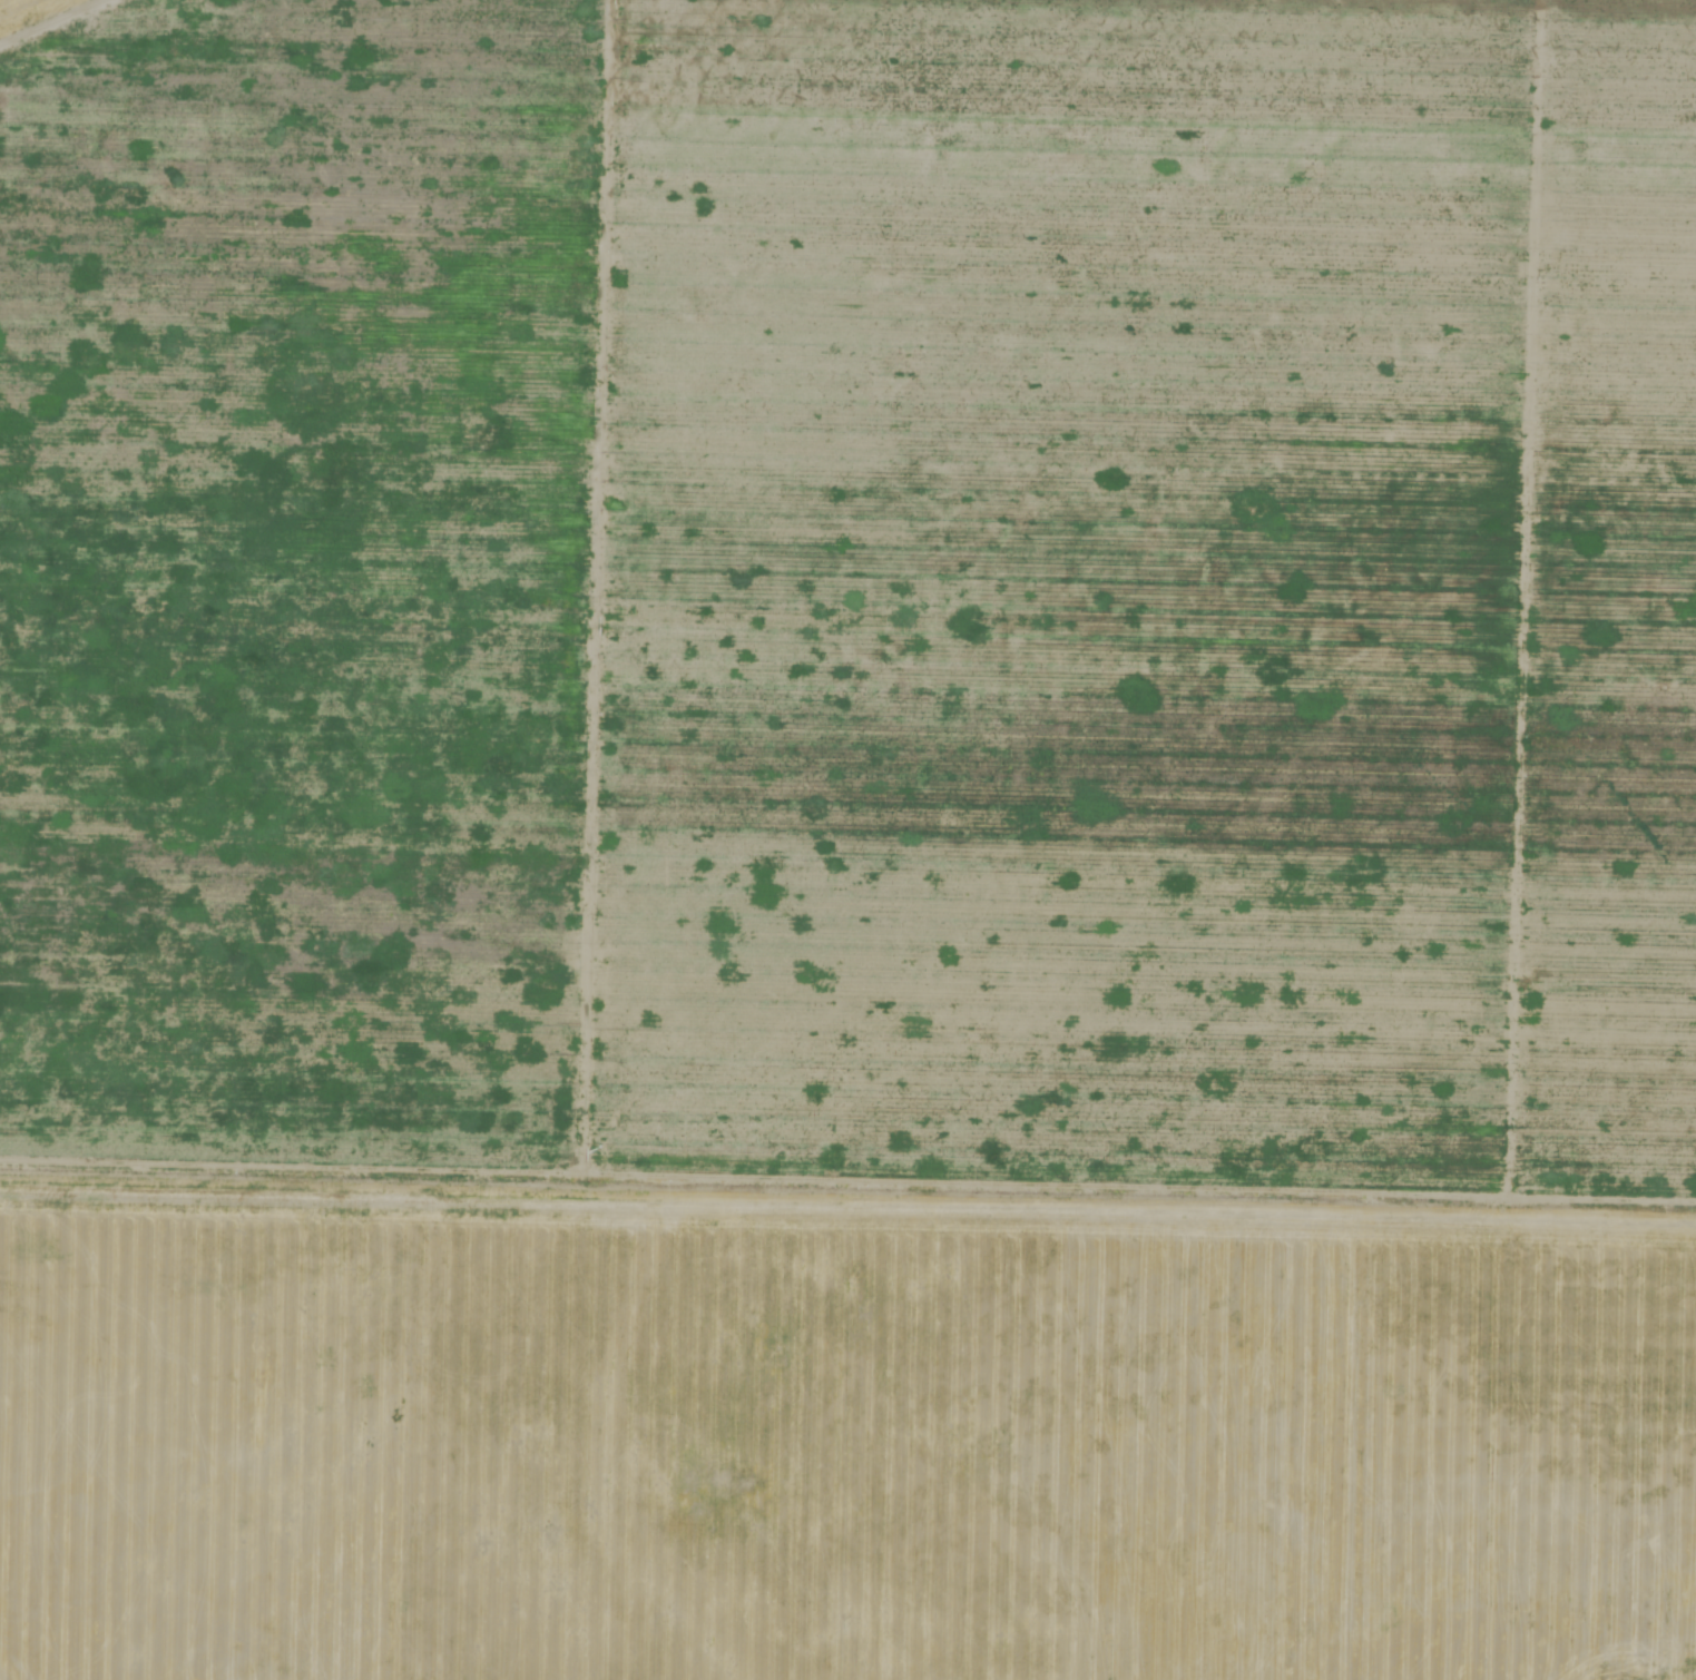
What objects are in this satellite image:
building: (703, 4)
crop: (856, 772)

